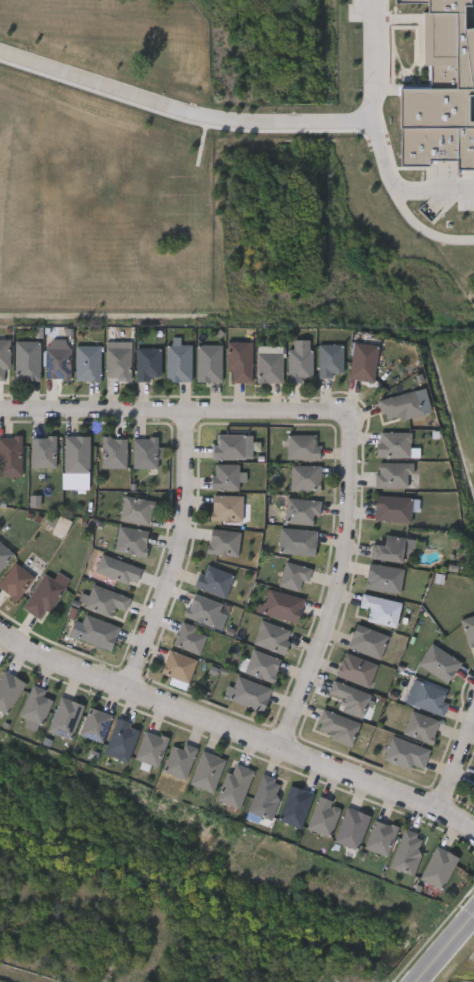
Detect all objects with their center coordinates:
road: (238, 116)
road: (401, 182)
road: (430, 218)
building: (4, 359)
building: (330, 359)
building: (239, 361)
building: (363, 361)
building: (87, 362)
building: (147, 362)
building: (178, 362)
building: (209, 362)
building: (27, 363)
building: (57, 363)
building: (117, 363)
building: (299, 363)
building: (269, 366)
building: (400, 405)
road: (174, 412)
building: (394, 442)
building: (229, 446)
building: (302, 446)
building: (43, 451)
building: (114, 451)
building: (144, 452)
building: (76, 453)
building: (10, 455)
building: (394, 473)
building: (225, 475)
building: (305, 477)
building: (226, 507)
building: (392, 507)
building: (136, 509)
building: (302, 510)
building: (131, 540)
building: (297, 540)
building: (223, 541)
building: (391, 548)
building: (4, 554)
road: (176, 555)
building: (118, 569)
building: (293, 575)
building: (384, 577)
building: (214, 579)
building: (15, 580)
road: (337, 583)
building: (45, 594)
building: (104, 599)
building: (282, 605)
building: (380, 609)
building: (204, 610)
building: (468, 628)
building: (97, 631)
building: (272, 636)
building: (189, 637)
building: (367, 641)
building: (438, 662)
building: (261, 664)
building: (177, 665)
building: (356, 669)
building: (8, 689)
building: (248, 692)
building: (351, 698)
building: (430, 698)
building: (33, 706)
building: (64, 716)
building: (94, 723)
building: (337, 726)
building: (420, 726)
road: (237, 730)
building: (120, 739)
building: (150, 747)
building: (406, 752)
building: (179, 759)
road: (457, 764)
building: (207, 770)
building: (235, 784)
building: (473, 789)
building: (473, 793)
building: (265, 795)
building: (295, 805)
building: (323, 815)
building: (351, 827)
building: (380, 836)
building: (407, 851)
building: (438, 867)
road: (446, 947)

